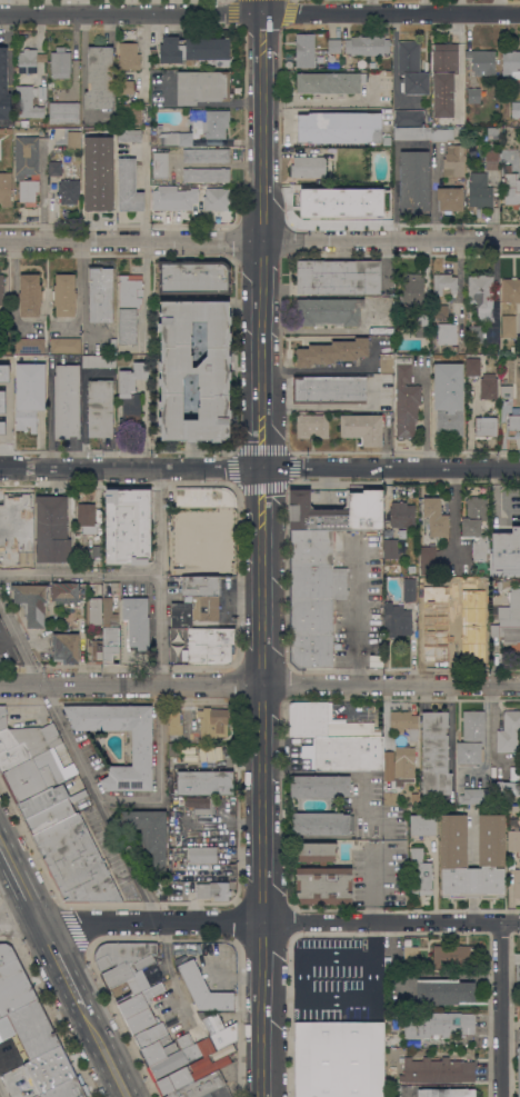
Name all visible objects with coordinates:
road: (497, 9)
road: (260, 20)
road: (74, 23)
building: (334, 46)
building: (367, 46)
building: (192, 49)
building: (304, 50)
building: (128, 56)
building: (29, 60)
building: (482, 61)
building: (60, 62)
building: (511, 62)
road: (74, 66)
building: (411, 67)
building: (443, 77)
building: (100, 78)
road: (461, 79)
building: (330, 82)
building: (126, 87)
building: (201, 87)
building: (4, 88)
building: (42, 92)
building: (473, 94)
building: (27, 103)
building: (516, 109)
building: (63, 112)
building: (130, 113)
building: (409, 118)
building: (209, 122)
building: (339, 127)
building: (8, 130)
building: (494, 130)
building: (2, 131)
building: (412, 133)
building: (46, 136)
building: (129, 136)
building: (442, 136)
building: (179, 138)
building: (73, 140)
building: (387, 141)
building: (207, 156)
building: (519, 157)
building: (491, 159)
building: (453, 161)
building: (160, 164)
building: (27, 166)
building: (308, 167)
building: (54, 168)
building: (98, 173)
building: (206, 174)
road: (396, 181)
building: (414, 182)
road: (41, 185)
building: (511, 186)
building: (128, 187)
building: (6, 189)
building: (201, 189)
building: (479, 190)
building: (69, 191)
building: (382, 193)
building: (189, 198)
building: (450, 198)
building: (321, 201)
building: (218, 216)
road: (260, 243)
building: (193, 277)
building: (338, 277)
building: (443, 283)
building: (1, 289)
building: (413, 289)
building: (480, 290)
building: (511, 290)
building: (64, 295)
building: (100, 295)
building: (29, 296)
building: (398, 305)
building: (129, 308)
building: (328, 311)
building: (441, 311)
building: (8, 313)
building: (487, 318)
building: (423, 320)
building: (508, 326)
building: (446, 333)
building: (476, 335)
building: (30, 345)
building: (64, 345)
building: (112, 345)
building: (454, 348)
building: (513, 349)
building: (332, 351)
building: (99, 360)
building: (386, 362)
building: (472, 367)
building: (6, 368)
building: (194, 370)
building: (438, 385)
building: (488, 386)
building: (329, 389)
building: (506, 391)
building: (29, 395)
building: (130, 396)
building: (406, 399)
building: (67, 401)
building: (100, 408)
building: (2, 412)
building: (513, 421)
building: (450, 422)
building: (312, 426)
building: (486, 426)
building: (362, 428)
road: (260, 466)
building: (204, 497)
road: (453, 510)
building: (337, 511)
building: (386, 511)
building: (401, 515)
building: (17, 517)
building: (436, 517)
building: (87, 518)
building: (476, 525)
building: (126, 526)
building: (52, 529)
building: (28, 538)
building: (6, 539)
building: (207, 540)
building: (397, 547)
road: (259, 548)
building: (97, 552)
building: (506, 554)
building: (27, 555)
building: (428, 560)
building: (201, 567)
road: (80, 572)
road: (160, 576)
building: (480, 586)
building: (411, 588)
building: (442, 588)
building: (67, 591)
building: (202, 595)
building: (313, 596)
building: (31, 602)
road: (357, 609)
building: (93, 611)
building: (109, 611)
building: (429, 612)
building: (181, 615)
building: (396, 619)
building: (137, 621)
building: (509, 621)
building: (466, 630)
building: (110, 642)
road: (21, 644)
building: (209, 645)
building: (66, 647)
building: (94, 649)
building: (0, 661)
road: (260, 685)
building: (311, 720)
building: (174, 722)
building: (211, 722)
building: (404, 722)
building: (509, 731)
building: (471, 738)
building: (23, 741)
building: (142, 748)
building: (344, 752)
building: (434, 754)
building: (404, 765)
road: (160, 769)
building: (516, 774)
building: (34, 777)
building: (204, 782)
building: (320, 786)
building: (504, 789)
building: (474, 796)
building: (390, 798)
building: (43, 800)
road: (101, 804)
building: (201, 804)
building: (52, 814)
building: (321, 824)
building: (422, 825)
building: (149, 836)
building: (491, 840)
building: (513, 840)
building: (314, 851)
building: (202, 855)
building: (76, 861)
building: (420, 872)
road: (20, 879)
road: (434, 881)
building: (517, 882)
road: (371, 884)
building: (324, 885)
building: (212, 890)
road: (20, 921)
road: (280, 921)
building: (453, 957)
building: (410, 958)
building: (122, 960)
road: (64, 966)
building: (519, 967)
building: (199, 979)
building: (12, 981)
building: (121, 991)
building: (443, 991)
building: (138, 1000)
road: (321, 1000)
road: (511, 1007)
building: (140, 1020)
building: (436, 1024)
building: (29, 1029)
building: (218, 1029)
building: (519, 1035)
building: (169, 1049)
building: (222, 1051)
road: (108, 1054)
building: (339, 1059)
building: (199, 1063)
building: (209, 1068)
building: (50, 1069)
building: (392, 1070)
building: (437, 1070)
building: (519, 1071)
building: (173, 1081)
building: (201, 1086)
building: (67, 1089)
building: (393, 1090)
road: (1, 1093)
building: (220, 1093)
building: (446, 1093)

